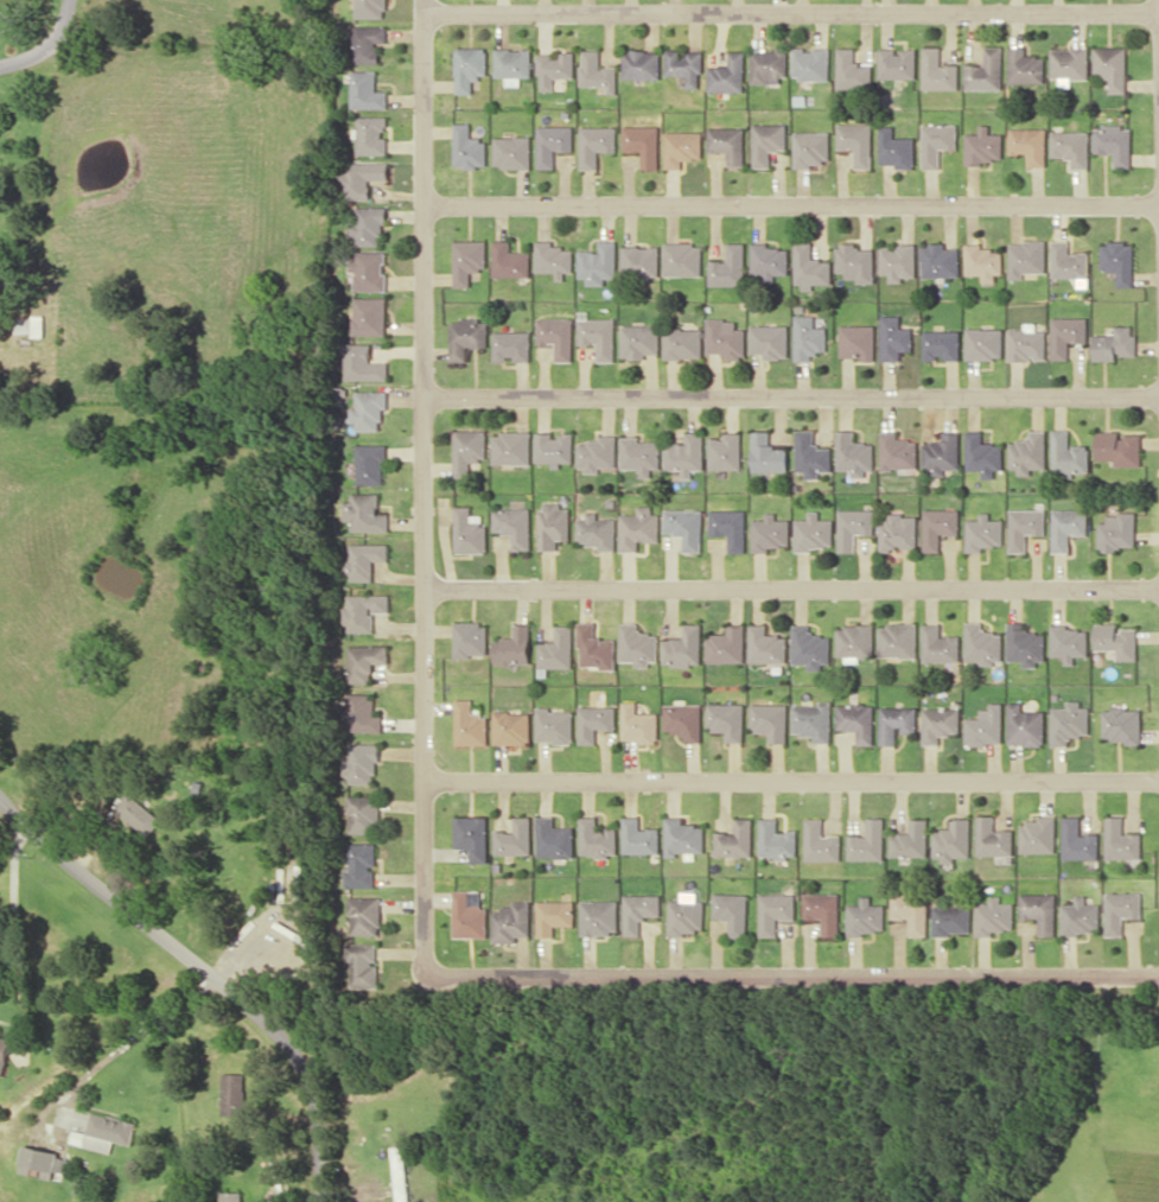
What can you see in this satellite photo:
building: (370, 8)
road: (790, 12)
road: (1158, 28)
building: (367, 43)
road: (51, 46)
building: (639, 63)
building: (811, 63)
building: (898, 63)
building: (511, 64)
building: (1069, 64)
building: (684, 65)
building: (768, 65)
building: (467, 66)
building: (1025, 66)
building: (1112, 66)
building: (553, 68)
building: (853, 70)
building: (938, 70)
building: (986, 70)
building: (596, 71)
building: (727, 74)
building: (367, 90)
building: (371, 134)
building: (768, 141)
building: (856, 141)
building: (937, 141)
building: (552, 142)
building: (643, 142)
building: (728, 142)
building: (1114, 142)
building: (594, 144)
building: (1029, 144)
building: (983, 145)
building: (1071, 146)
building: (467, 147)
building: (682, 147)
building: (811, 147)
building: (896, 148)
building: (511, 151)
building: (361, 178)
road: (790, 204)
building: (369, 224)
building: (1025, 257)
building: (553, 259)
building: (682, 259)
building: (467, 260)
building: (509, 260)
building: (769, 260)
building: (938, 260)
building: (1068, 260)
building: (1119, 260)
building: (641, 261)
building: (854, 261)
building: (897, 261)
building: (982, 261)
building: (598, 262)
building: (809, 265)
building: (728, 266)
building: (370, 269)
building: (370, 316)
building: (1066, 333)
building: (556, 336)
building: (599, 336)
building: (466, 337)
building: (808, 337)
building: (893, 337)
building: (726, 338)
building: (770, 339)
building: (639, 341)
building: (856, 341)
building: (683, 343)
building: (983, 343)
building: (1026, 343)
building: (1115, 343)
building: (511, 344)
building: (941, 344)
building: (363, 363)
road: (791, 395)
building: (369, 409)
building: (554, 446)
building: (511, 447)
building: (1119, 447)
building: (469, 450)
building: (725, 451)
building: (897, 451)
building: (1027, 452)
building: (598, 453)
building: (684, 453)
building: (766, 453)
building: (853, 453)
building: (941, 453)
building: (982, 453)
building: (1066, 453)
building: (639, 454)
building: (811, 454)
building: (370, 463)
road: (424, 485)
building: (364, 513)
building: (554, 524)
building: (514, 526)
building: (938, 526)
building: (684, 527)
building: (730, 527)
building: (853, 527)
building: (1024, 527)
building: (1066, 527)
building: (638, 528)
building: (469, 532)
building: (597, 532)
building: (813, 532)
building: (898, 532)
building: (982, 532)
building: (1116, 532)
building: (769, 533)
building: (363, 559)
road: (791, 589)
building: (363, 610)
building: (470, 638)
building: (897, 640)
building: (1116, 640)
building: (855, 641)
building: (1068, 642)
building: (982, 643)
building: (638, 644)
building: (766, 644)
building: (938, 644)
building: (1025, 644)
building: (516, 645)
building: (727, 645)
building: (684, 647)
building: (810, 647)
building: (558, 648)
building: (596, 648)
building: (364, 661)
building: (362, 713)
building: (728, 719)
building: (684, 720)
building: (771, 720)
building: (813, 720)
building: (858, 720)
building: (596, 721)
building: (897, 723)
building: (940, 723)
building: (1069, 723)
building: (470, 724)
building: (639, 724)
building: (554, 725)
building: (1025, 725)
building: (1122, 725)
building: (511, 727)
building: (985, 727)
building: (362, 763)
road: (791, 777)
building: (138, 813)
building: (364, 814)
building: (1038, 834)
building: (682, 835)
building: (472, 837)
building: (638, 837)
building: (993, 837)
building: (514, 838)
building: (553, 838)
building: (596, 838)
building: (735, 839)
building: (777, 839)
building: (911, 839)
building: (953, 840)
building: (1078, 840)
building: (1121, 840)
building: (821, 841)
building: (868, 841)
building: (361, 865)
building: (639, 910)
building: (823, 910)
building: (911, 910)
building: (1039, 910)
building: (1120, 910)
building: (732, 911)
building: (775, 911)
building: (467, 914)
building: (364, 915)
building: (553, 915)
building: (599, 916)
building: (686, 916)
building: (866, 916)
building: (993, 916)
building: (1080, 916)
building: (951, 918)
building: (511, 922)
building: (362, 963)
road: (206, 968)
road: (791, 973)
building: (5, 1051)
building: (233, 1093)
building: (108, 1131)
building: (42, 1162)
building: (401, 1183)
building: (81, 1184)
building: (230, 1196)

